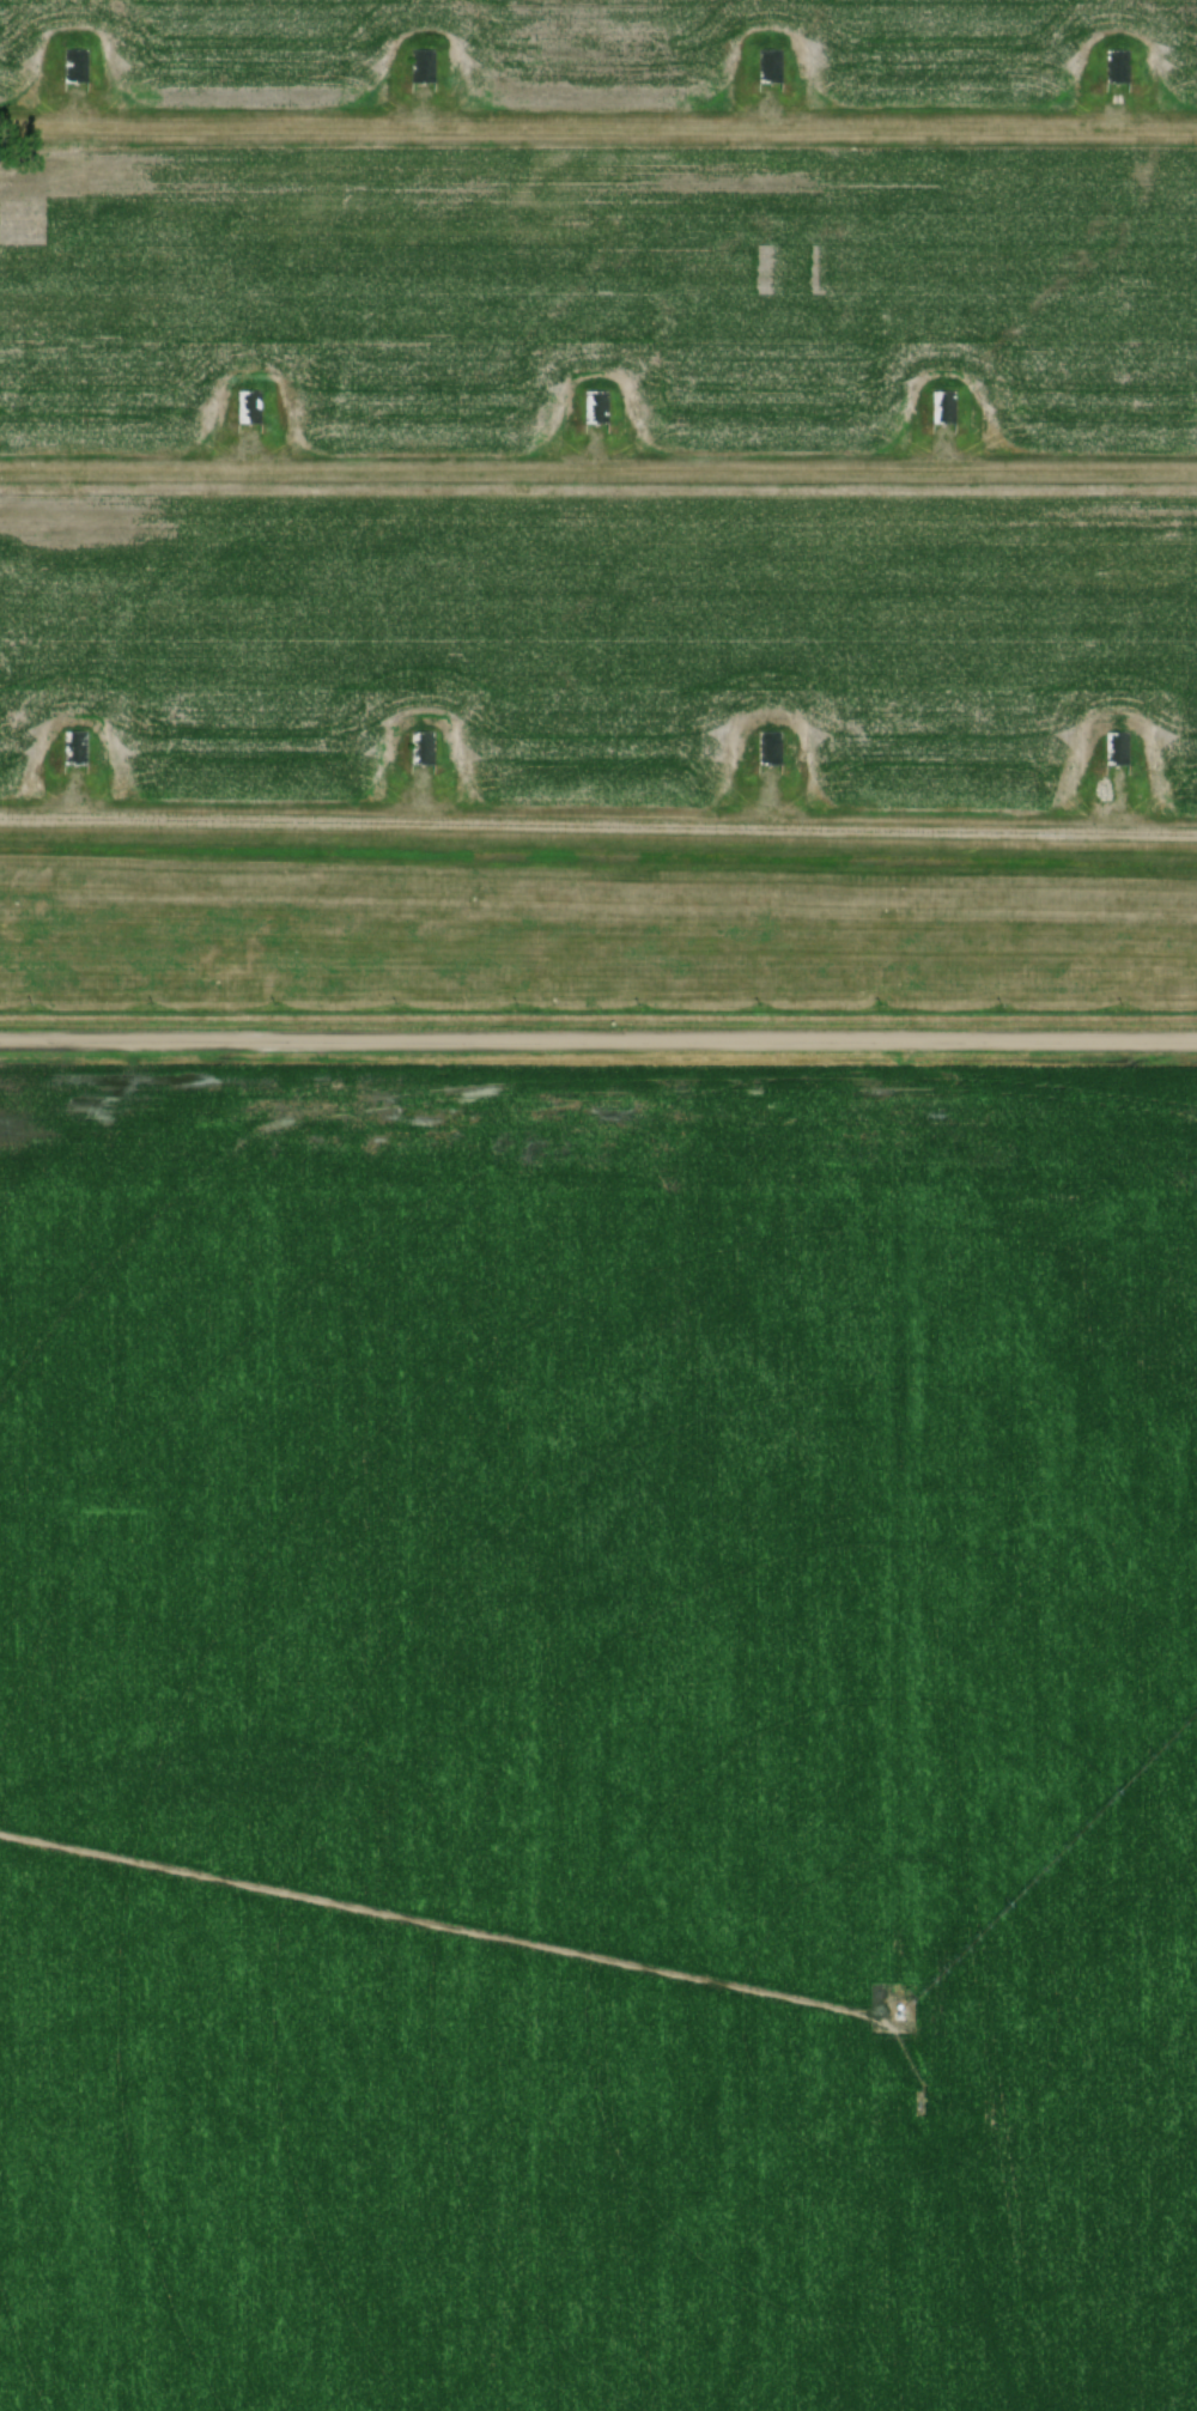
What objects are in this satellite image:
building: (73, 67)
building: (421, 67)
building: (768, 67)
building: (1114, 67)
road: (597, 125)
building: (942, 406)
road: (597, 467)
building: (73, 747)
building: (420, 747)
building: (767, 747)
building: (1114, 747)
road: (597, 824)
road: (598, 1038)

